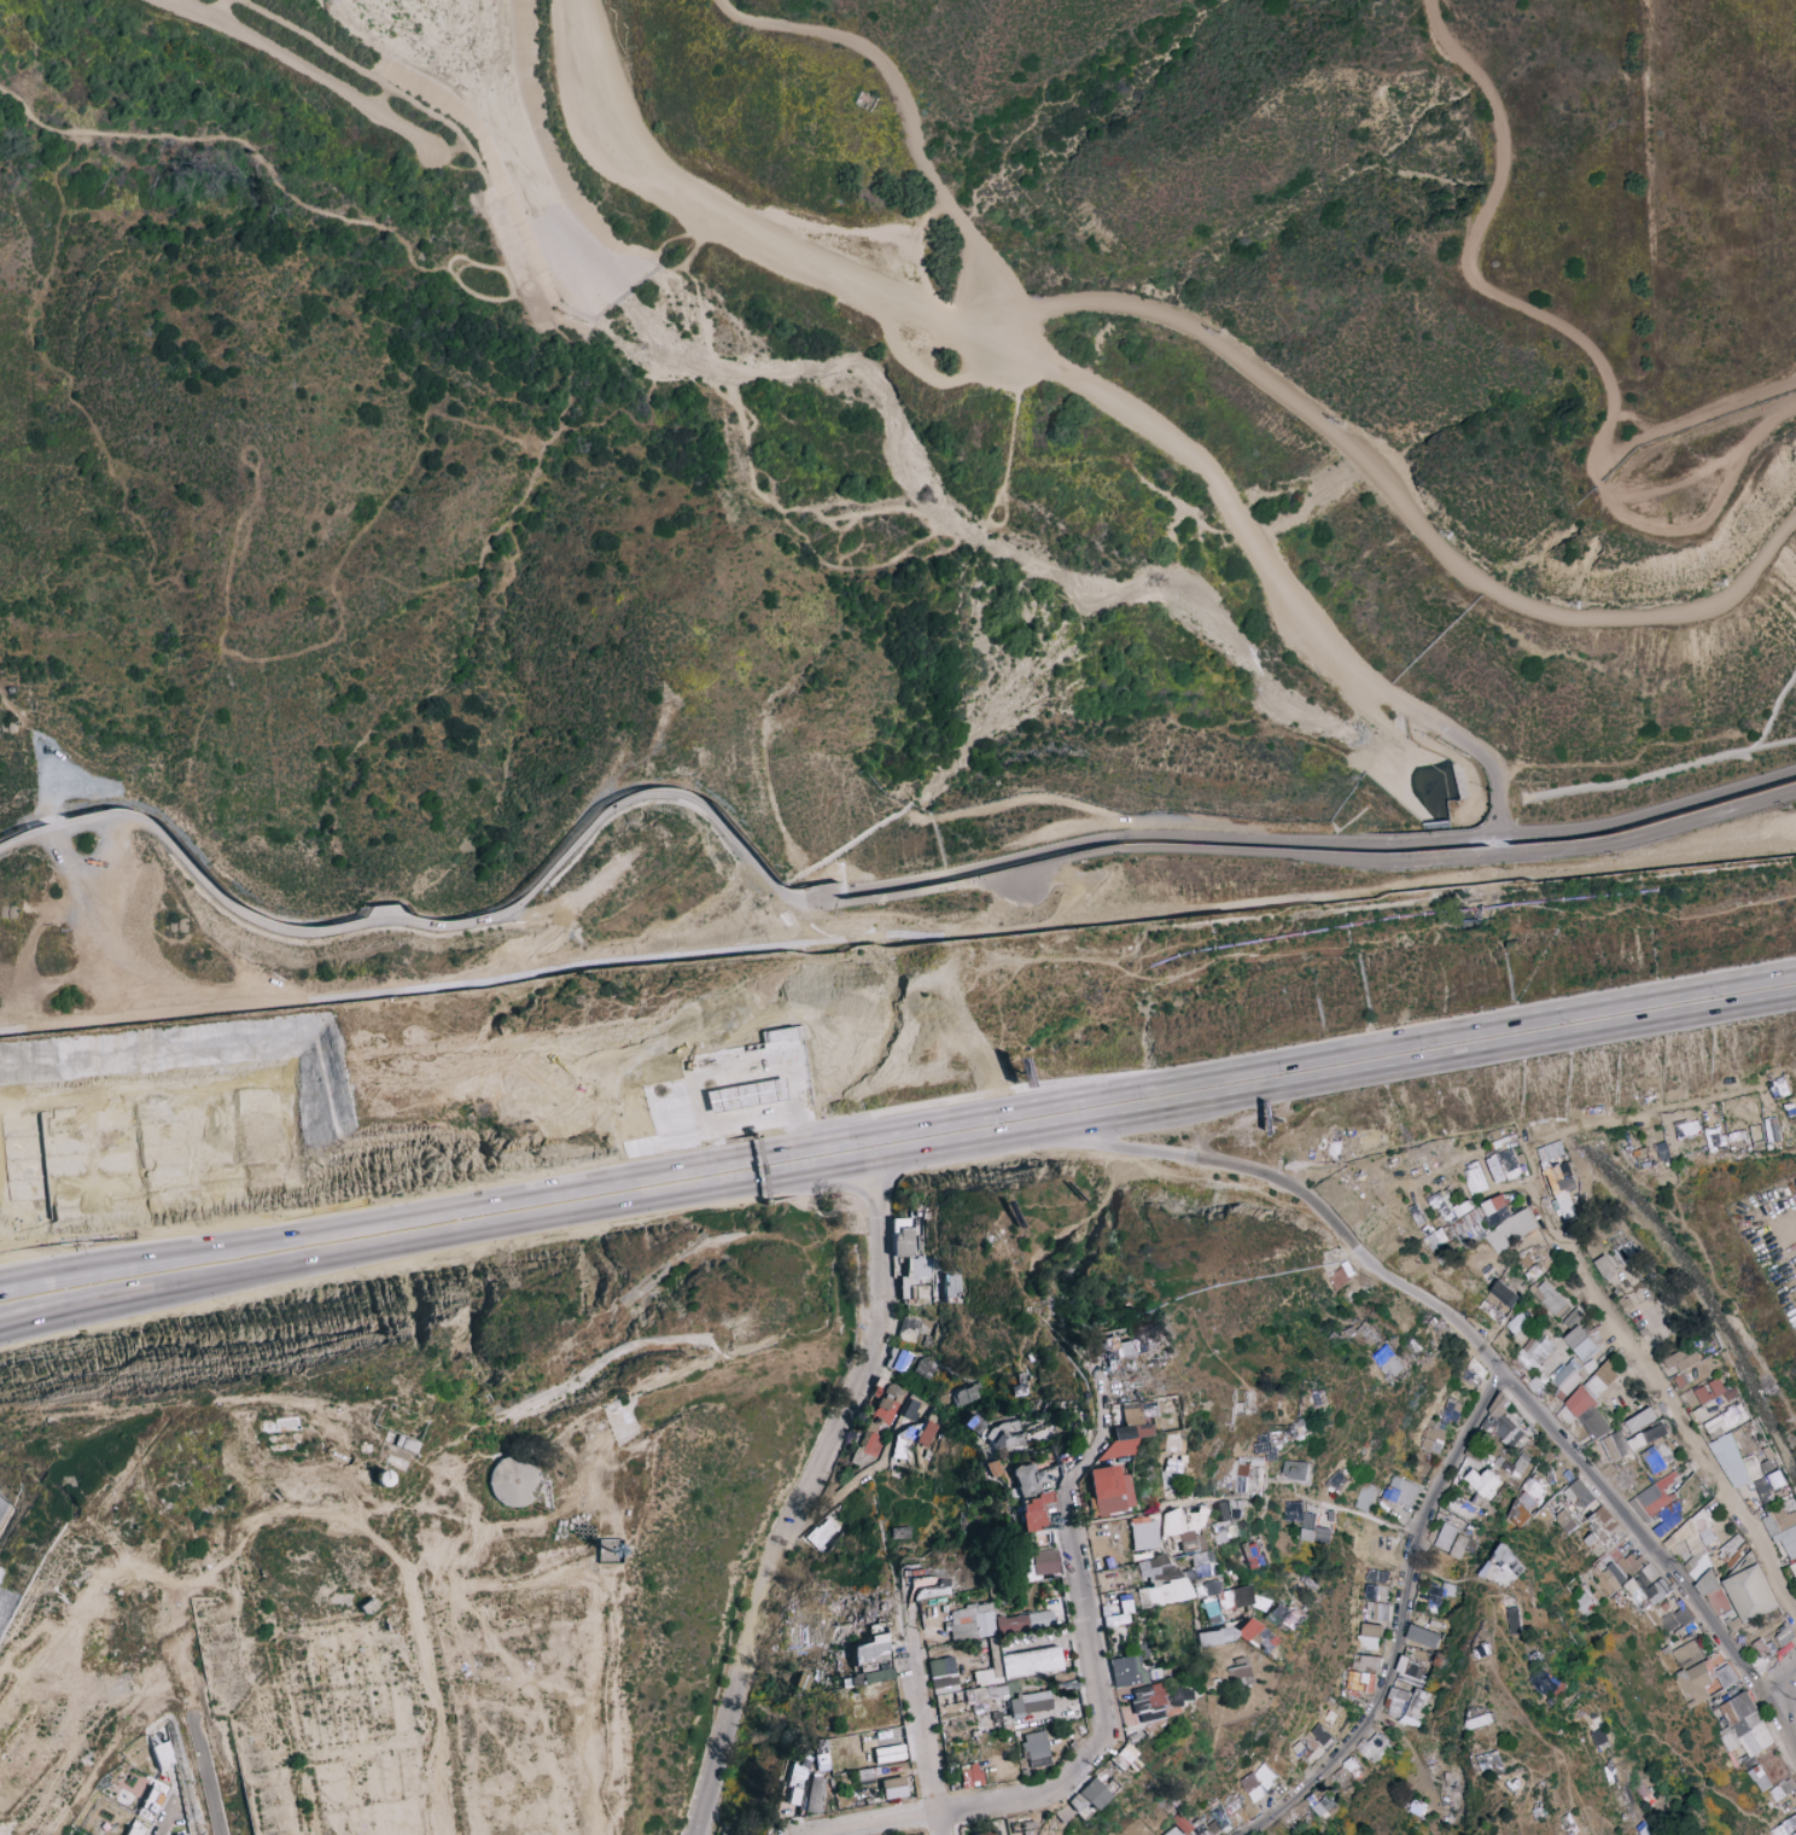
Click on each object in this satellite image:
road: (304, 68)
road: (366, 74)
road: (904, 110)
road: (241, 139)
road: (1474, 254)
road: (511, 290)
road: (1078, 384)
road: (1697, 420)
road: (1692, 435)
road: (1394, 497)
road: (1702, 524)
road: (14, 715)
road: (45, 797)
road: (1307, 841)
road: (1719, 855)
road: (1308, 857)
road: (1022, 885)
road: (433, 927)
road: (717, 953)
road: (152, 1016)
building: (785, 1033)
building: (729, 1085)
building: (760, 1094)
road: (748, 1111)
road: (950, 1119)
road: (799, 1124)
road: (718, 1128)
road: (780, 1128)
building: (1684, 1129)
building: (1772, 1129)
road: (957, 1144)
building: (1504, 1165)
building: (1557, 1166)
road: (754, 1169)
building: (1474, 1177)
building: (1565, 1204)
building: (1506, 1222)
building: (906, 1236)
building: (1605, 1265)
building: (915, 1282)
building: (951, 1286)
building: (1501, 1297)
building: (1550, 1298)
building: (1492, 1312)
building: (1571, 1318)
building: (1517, 1323)
building: (915, 1332)
building: (1365, 1334)
building: (1115, 1351)
building: (1533, 1351)
building: (1683, 1358)
building: (1576, 1359)
building: (897, 1361)
building: (1389, 1361)
building: (923, 1368)
building: (1681, 1380)
building: (1535, 1383)
building: (1710, 1391)
building: (1732, 1393)
building: (964, 1396)
building: (1591, 1405)
building: (1452, 1410)
building: (881, 1416)
building: (1640, 1420)
building: (1500, 1421)
building: (1727, 1421)
building: (1299, 1428)
building: (1127, 1429)
building: (1072, 1431)
building: (925, 1434)
building: (1020, 1434)
building: (1648, 1435)
building: (1433, 1438)
building: (1615, 1445)
building: (1474, 1451)
building: (991, 1469)
building: (1242, 1469)
building: (1296, 1469)
building: (1515, 1472)
building: (1026, 1478)
building: (513, 1482)
building: (1483, 1482)
building: (1771, 1485)
building: (1108, 1491)
building: (1401, 1491)
building: (1365, 1496)
building: (1650, 1499)
building: (1527, 1501)
building: (1570, 1504)
building: (1033, 1513)
building: (1668, 1517)
building: (1225, 1522)
building: (1306, 1524)
building: (1184, 1528)
building: (1784, 1531)
building: (821, 1533)
building: (899, 1533)
building: (1142, 1534)
building: (1452, 1540)
building: (1610, 1548)
building: (1731, 1548)
building: (1252, 1555)
building: (1043, 1562)
building: (1201, 1565)
building: (1505, 1567)
building: (1794, 1567)
building: (1376, 1575)
building: (1159, 1583)
building: (1648, 1585)
building: (927, 1588)
building: (1211, 1588)
building: (1370, 1591)
building: (1439, 1592)
building: (1751, 1595)
building: (1238, 1600)
building: (1586, 1601)
building: (1209, 1607)
building: (1380, 1610)
building: (1116, 1618)
building: (1281, 1618)
building: (1675, 1619)
building: (1515, 1620)
building: (1024, 1621)
building: (969, 1623)
building: (1255, 1636)
building: (1369, 1636)
building: (1423, 1636)
building: (1214, 1637)
building: (822, 1643)
building: (1761, 1648)
building: (1685, 1650)
building: (992, 1660)
building: (1366, 1661)
building: (870, 1662)
building: (1030, 1664)
building: (1411, 1670)
building: (1126, 1672)
building: (1237, 1673)
building: (939, 1674)
building: (1702, 1679)
building: (801, 1682)
building: (1360, 1682)
building: (1545, 1682)
building: (969, 1696)
building: (1156, 1702)
building: (1404, 1702)
building: (1027, 1705)
building: (1481, 1720)
building: (1743, 1725)
building: (1322, 1734)
building: (1374, 1746)
building: (1306, 1747)
building: (1034, 1749)
building: (1491, 1761)
building: (821, 1763)
building: (1353, 1766)
building: (969, 1776)
building: (1341, 1776)
building: (1760, 1777)
building: (1259, 1781)
building: (1101, 1783)
building: (793, 1784)
building: (893, 1788)
building: (1643, 1789)
building: (812, 1795)
building: (151, 1802)
building: (1320, 1805)
building: (1299, 1814)
building: (1214, 1821)
building: (1177, 1827)
building: (1785, 1828)
building: (135, 1830)
building: (1646, 1831)
building: (987, 1834)

